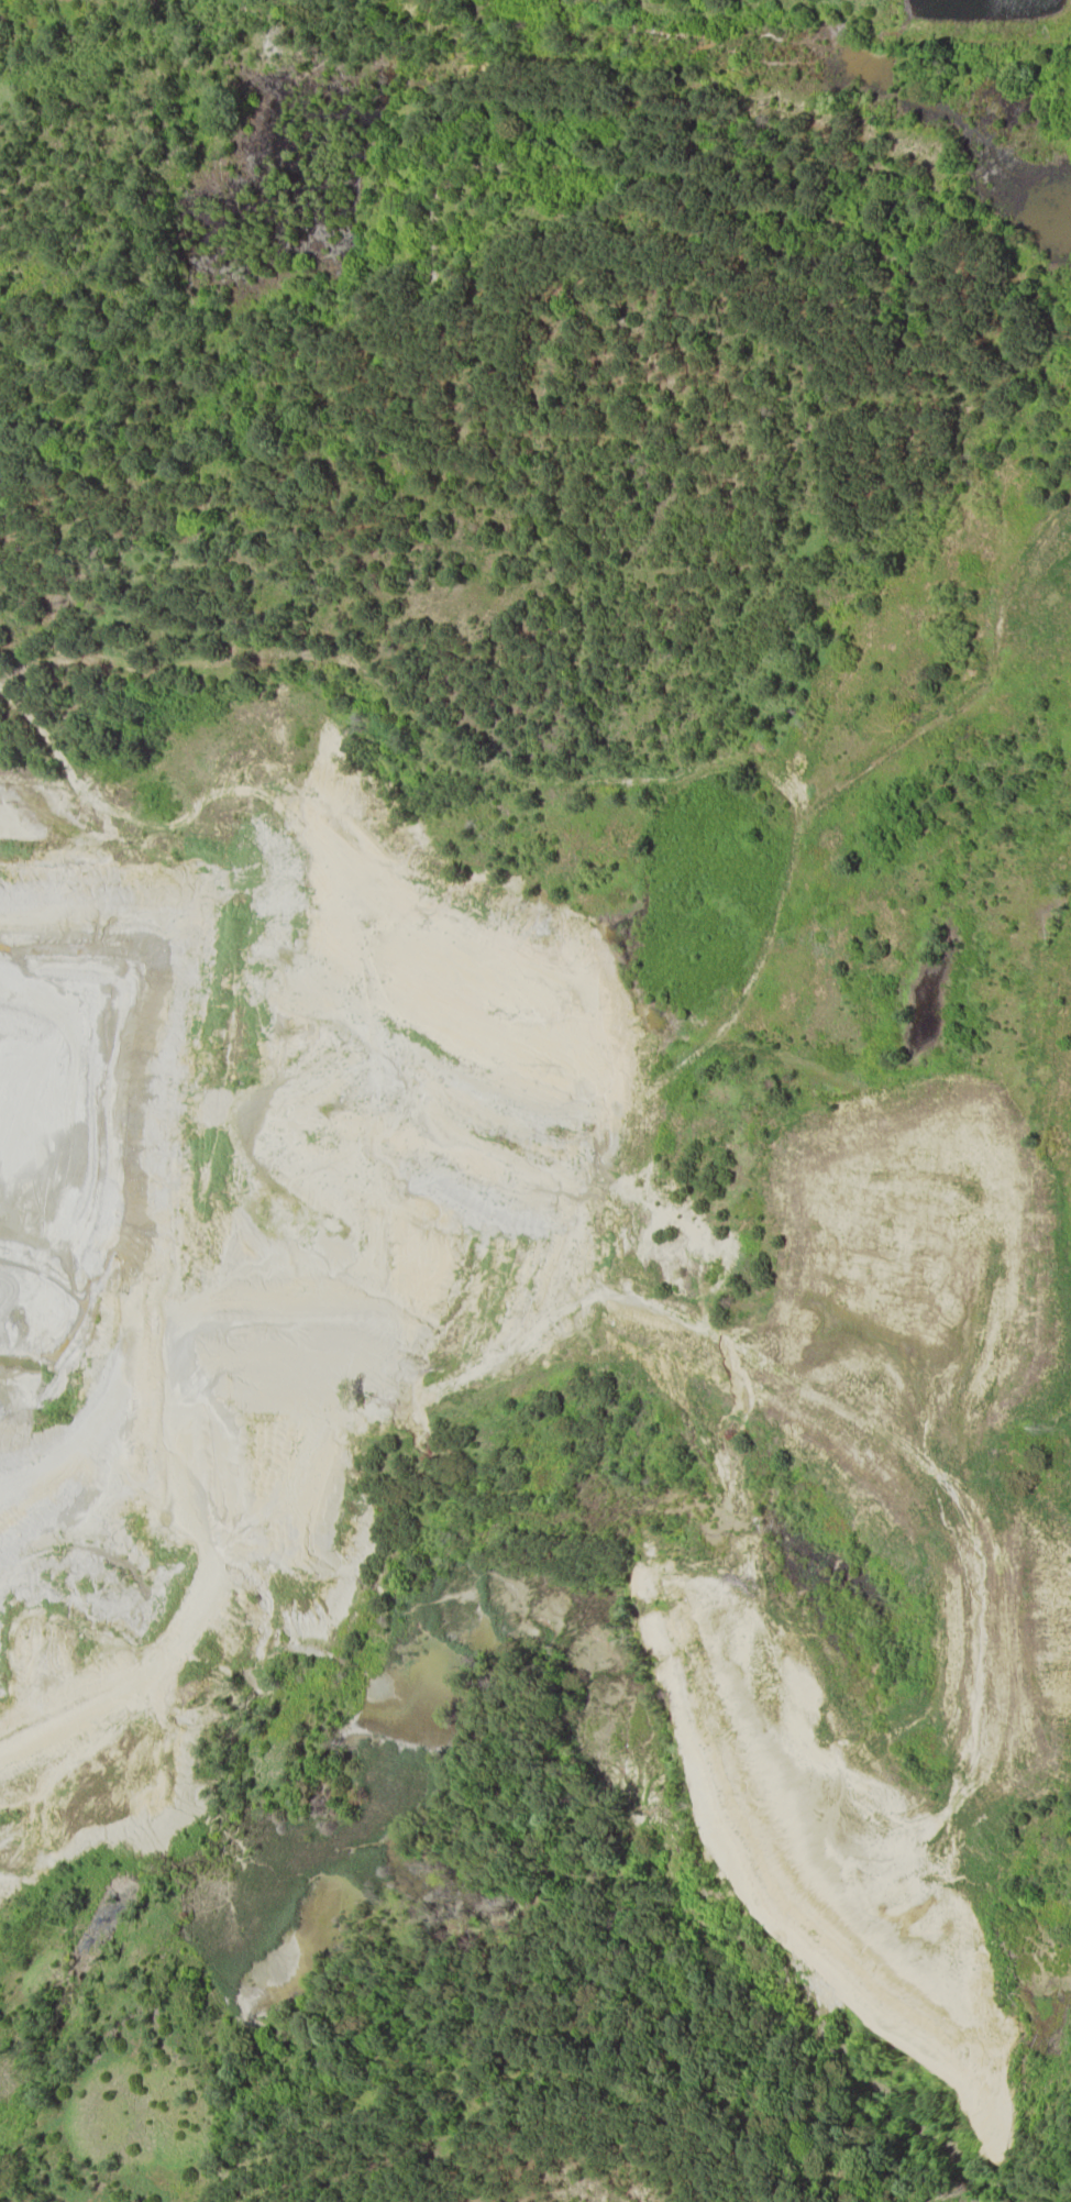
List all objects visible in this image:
road: (527, 384)
road: (369, 1154)
road: (34, 1656)

